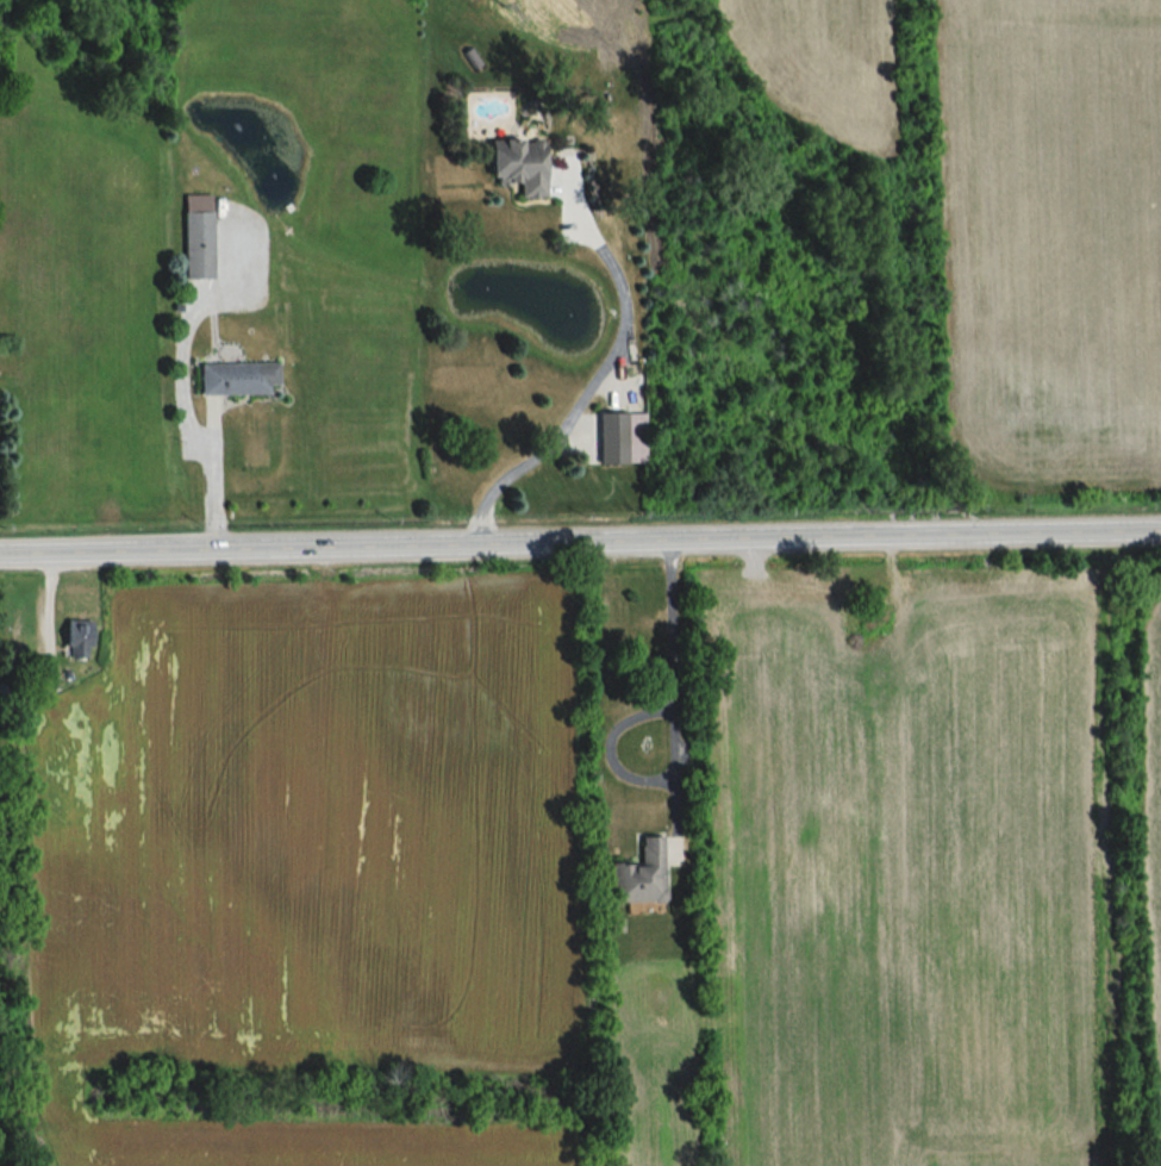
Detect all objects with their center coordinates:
crop: (826, 64)
building: (516, 166)
building: (196, 247)
crop: (1045, 247)
road: (598, 369)
building: (236, 379)
road: (187, 382)
building: (611, 439)
road: (580, 542)
building: (75, 640)
road: (676, 694)
crop: (311, 840)
crop: (1153, 852)
crop: (912, 872)
building: (638, 875)
crop: (655, 1065)
crop: (289, 1137)
crop: (1157, 1158)

